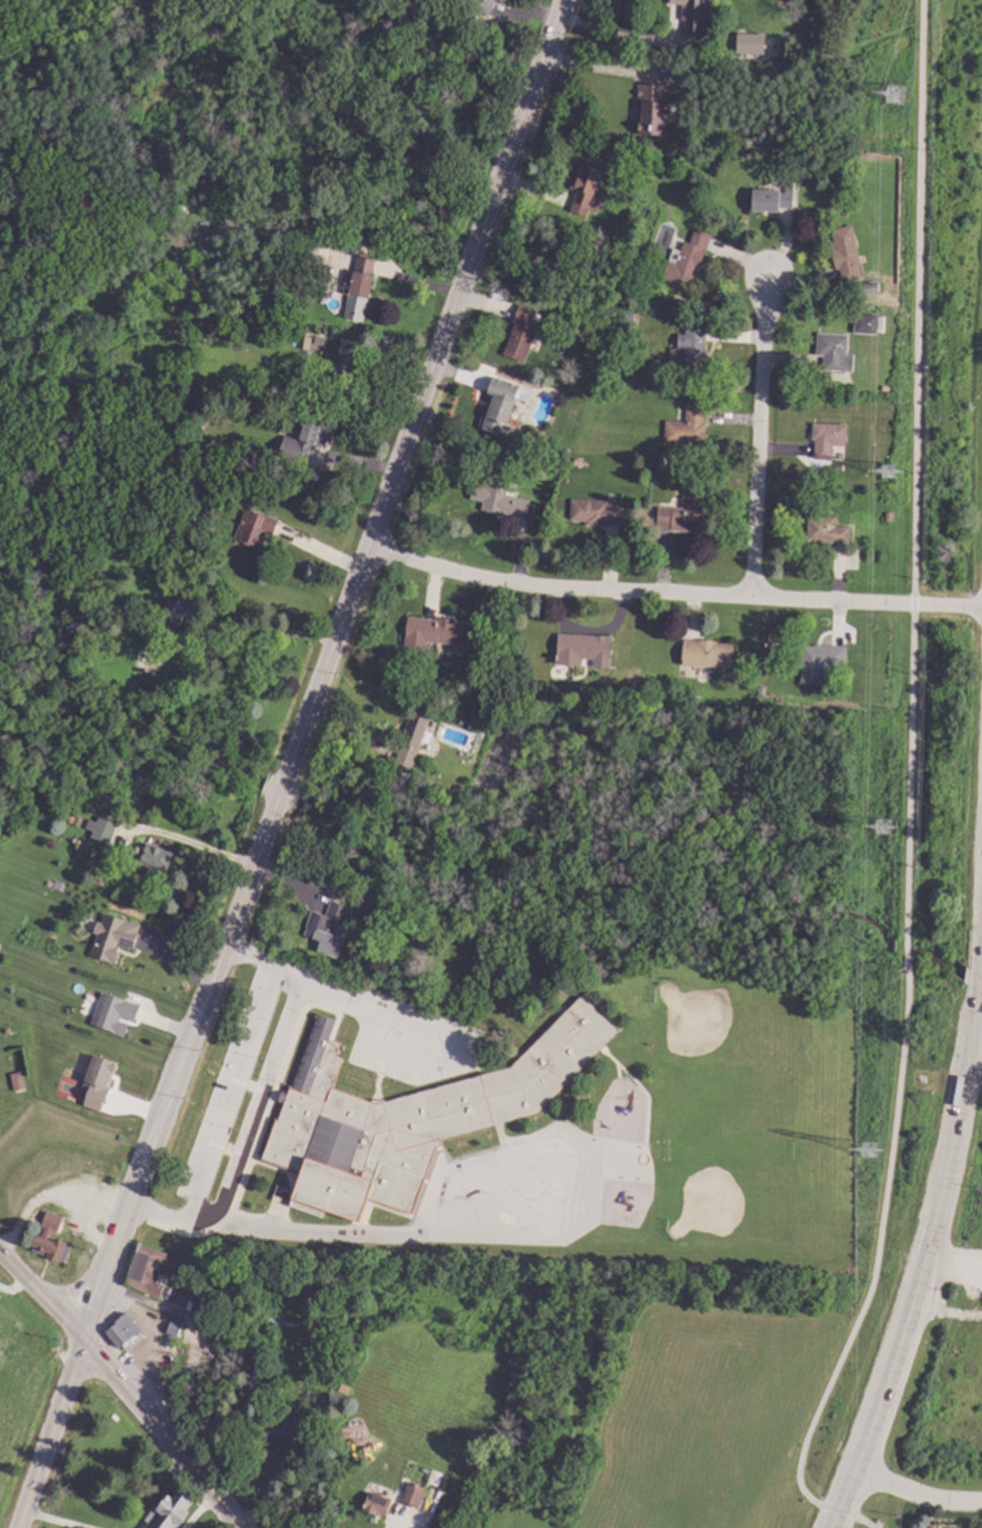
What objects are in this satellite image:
building: (484, 6)
building: (696, 14)
building: (748, 44)
road: (674, 62)
building: (687, 73)
power tower: (897, 96)
building: (654, 109)
building: (693, 137)
building: (588, 191)
building: (775, 199)
building: (847, 253)
building: (238, 258)
building: (688, 260)
building: (319, 262)
building: (870, 289)
building: (360, 297)
building: (18, 298)
building: (629, 317)
building: (867, 324)
building: (523, 334)
building: (255, 337)
building: (696, 350)
building: (834, 351)
building: (346, 365)
road: (425, 386)
building: (887, 389)
building: (503, 403)
building: (689, 428)
building: (307, 438)
road: (760, 438)
building: (830, 440)
building: (205, 459)
building: (580, 461)
power tower: (889, 473)
building: (228, 480)
building: (503, 499)
building: (596, 512)
building: (685, 515)
building: (891, 517)
building: (256, 527)
building: (828, 530)
road: (672, 594)
building: (184, 611)
road: (258, 631)
building: (440, 632)
building: (586, 650)
building: (709, 653)
building: (822, 661)
building: (118, 698)
building: (414, 738)
road: (283, 790)
road: (908, 795)
building: (80, 821)
building: (103, 829)
power tower: (884, 831)
road: (189, 845)
building: (159, 857)
building: (95, 862)
building: (383, 913)
building: (329, 928)
building: (115, 938)
road: (980, 954)
road: (252, 957)
road: (291, 973)
road: (977, 985)
building: (116, 1014)
road: (422, 1033)
building: (20, 1081)
building: (100, 1083)
road: (237, 1085)
road: (263, 1096)
building: (412, 1117)
park: (750, 1125)
power tower: (870, 1153)
road: (146, 1167)
road: (52, 1195)
road: (208, 1207)
road: (167, 1218)
road: (405, 1233)
road: (80, 1236)
building: (53, 1239)
road: (921, 1266)
building: (158, 1269)
building: (201, 1309)
road: (68, 1311)
building: (176, 1327)
building: (125, 1330)
road: (120, 1387)
building: (346, 1389)
building: (281, 1426)
building: (562, 1491)
building: (414, 1494)
road: (918, 1495)
building: (379, 1505)
building: (557, 1506)
building: (172, 1510)
road: (199, 1514)
road: (48, 1519)

